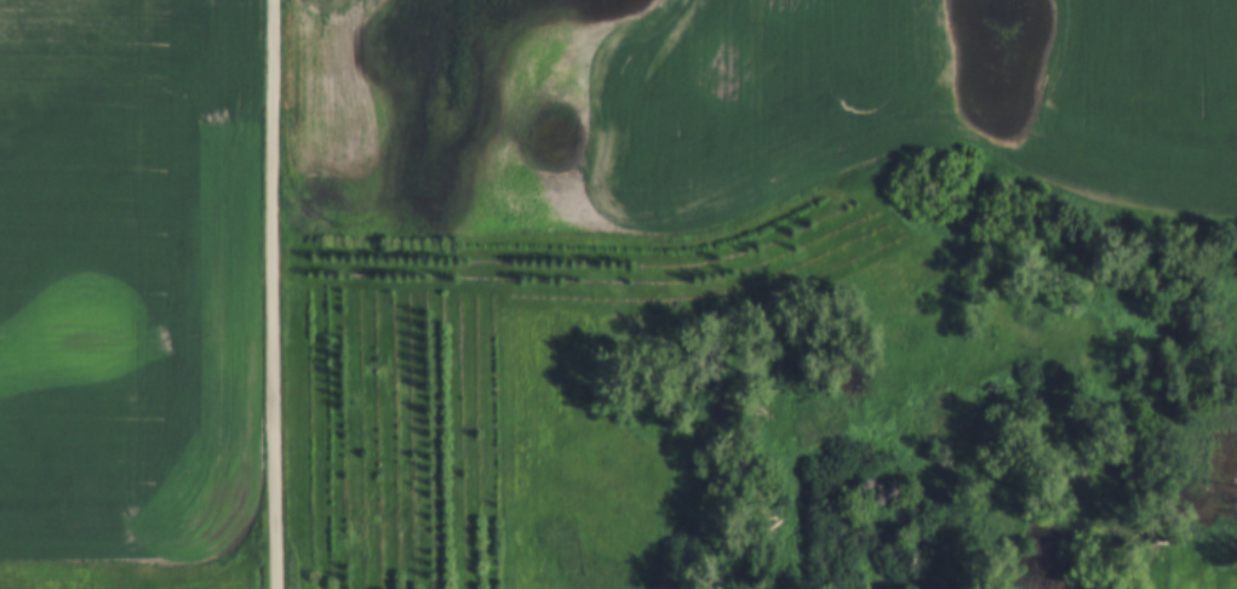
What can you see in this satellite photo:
road: (269, 294)

